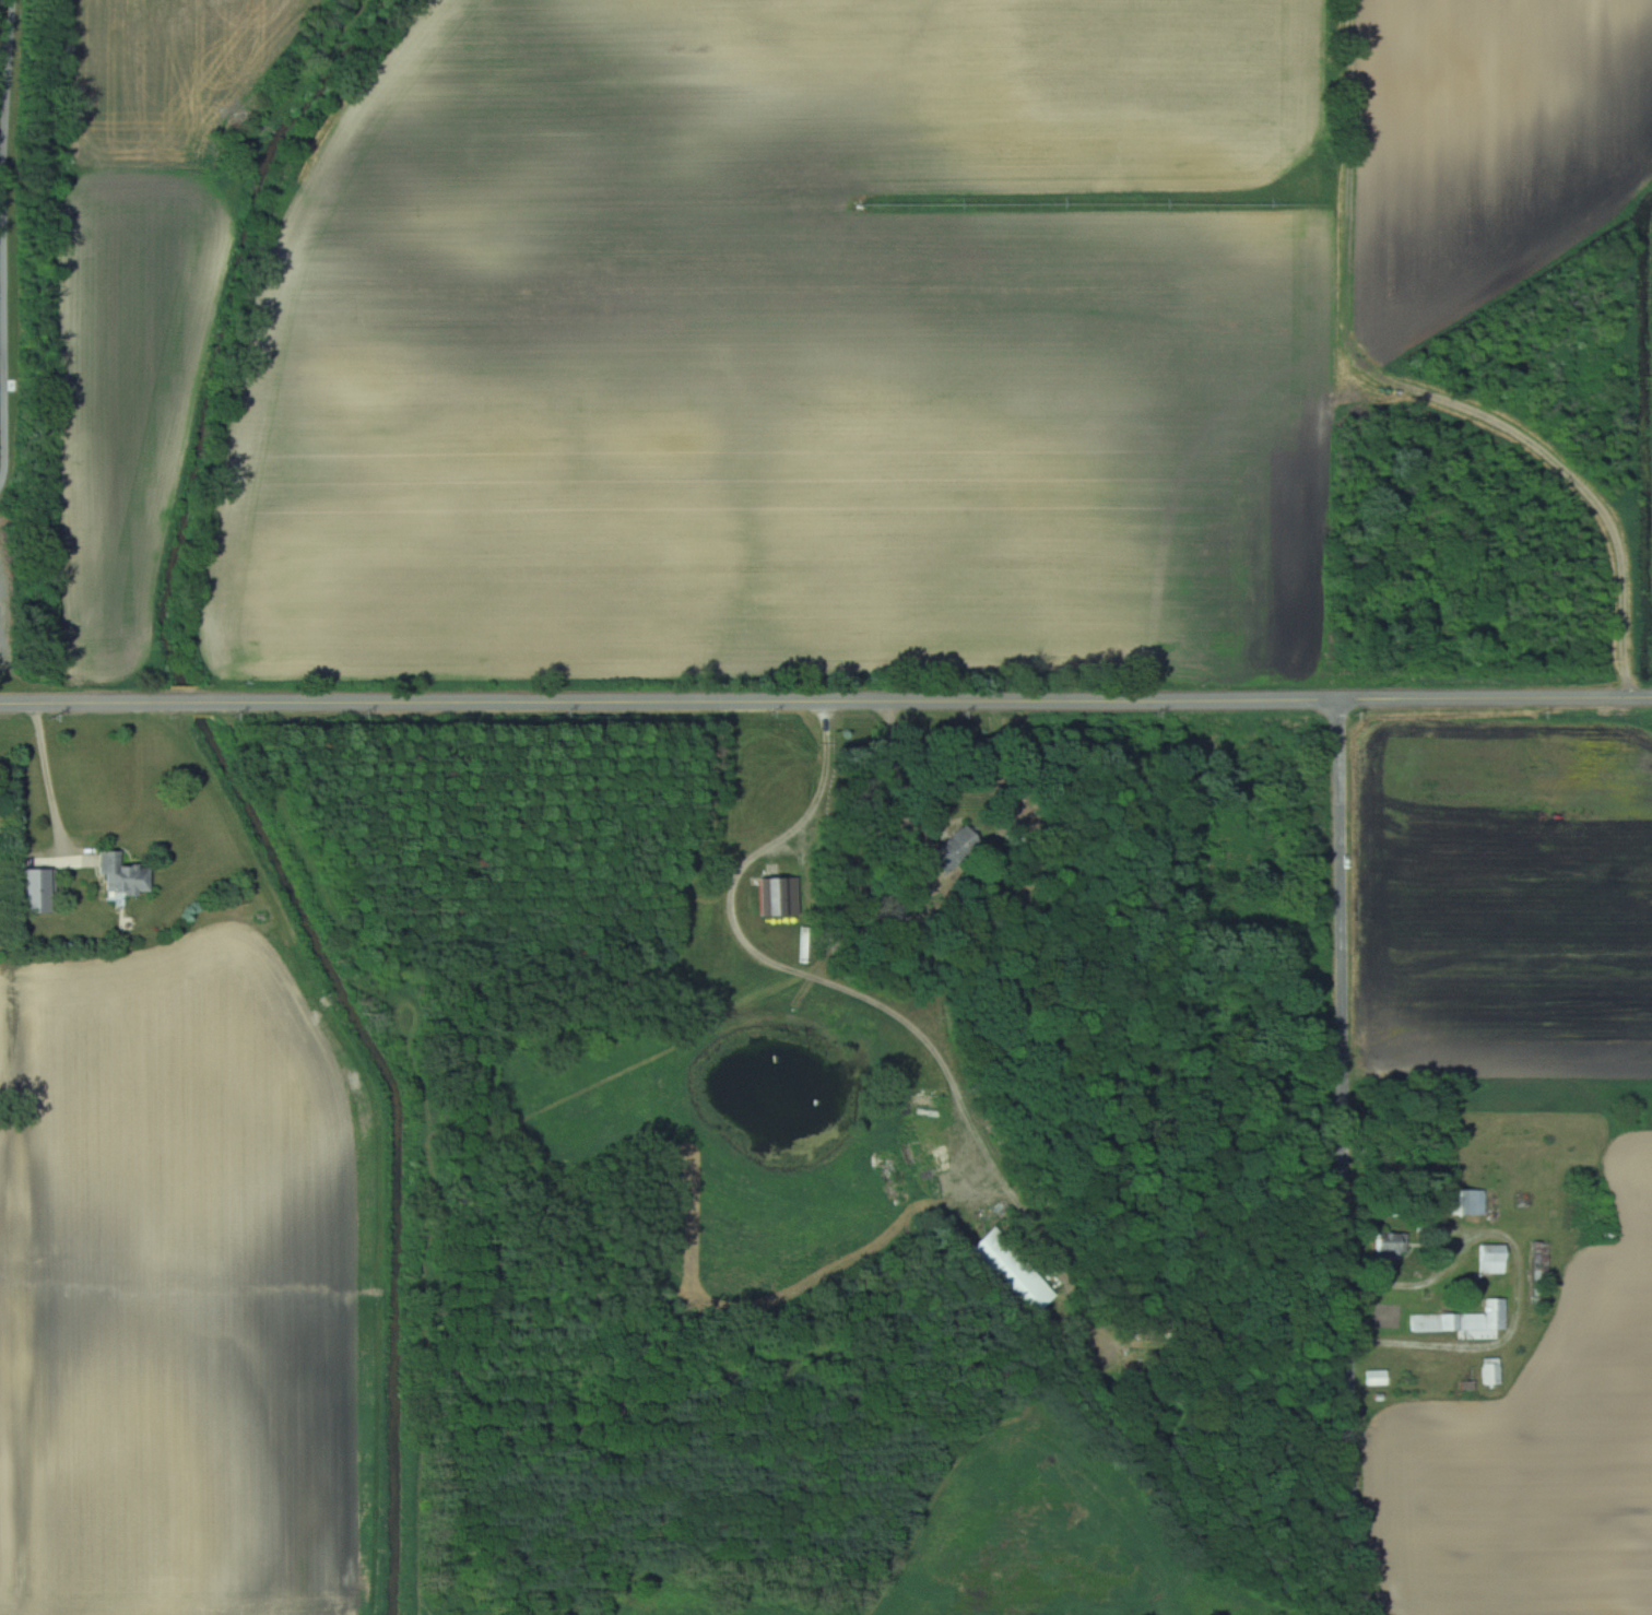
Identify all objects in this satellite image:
road: (826, 700)
road: (889, 765)
road: (48, 777)
building: (955, 851)
building: (129, 874)
building: (775, 896)
road: (780, 964)
road: (1345, 1156)
building: (1462, 1202)
building: (1490, 1259)
building: (1537, 1263)
building: (1007, 1271)
building: (1464, 1321)
building: (1488, 1371)
building: (1374, 1377)

